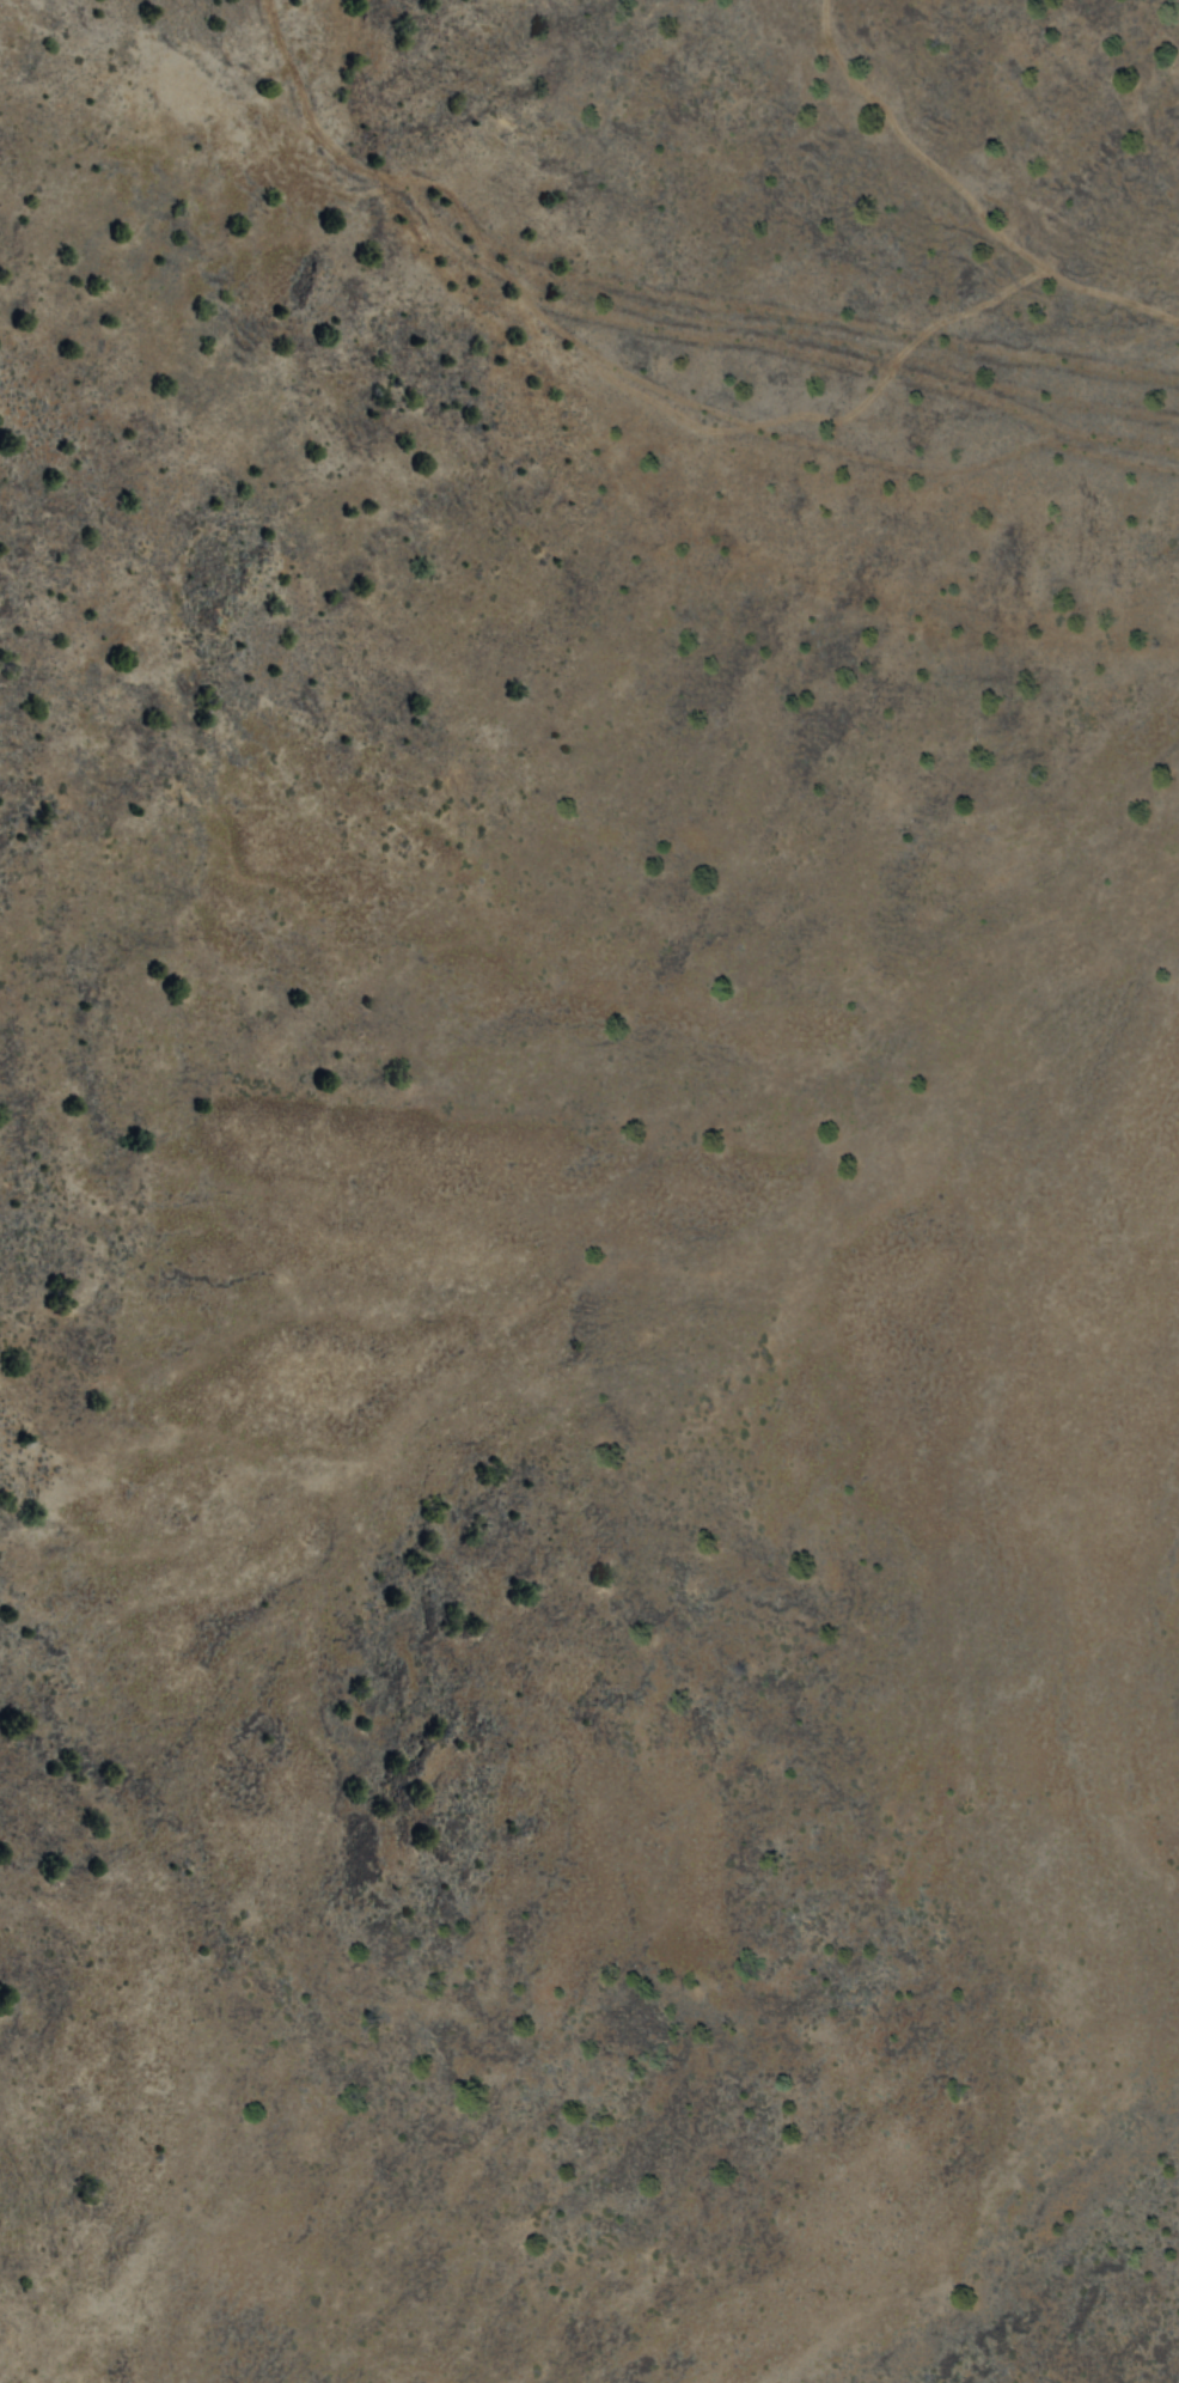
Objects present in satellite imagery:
road: (658, 325)

